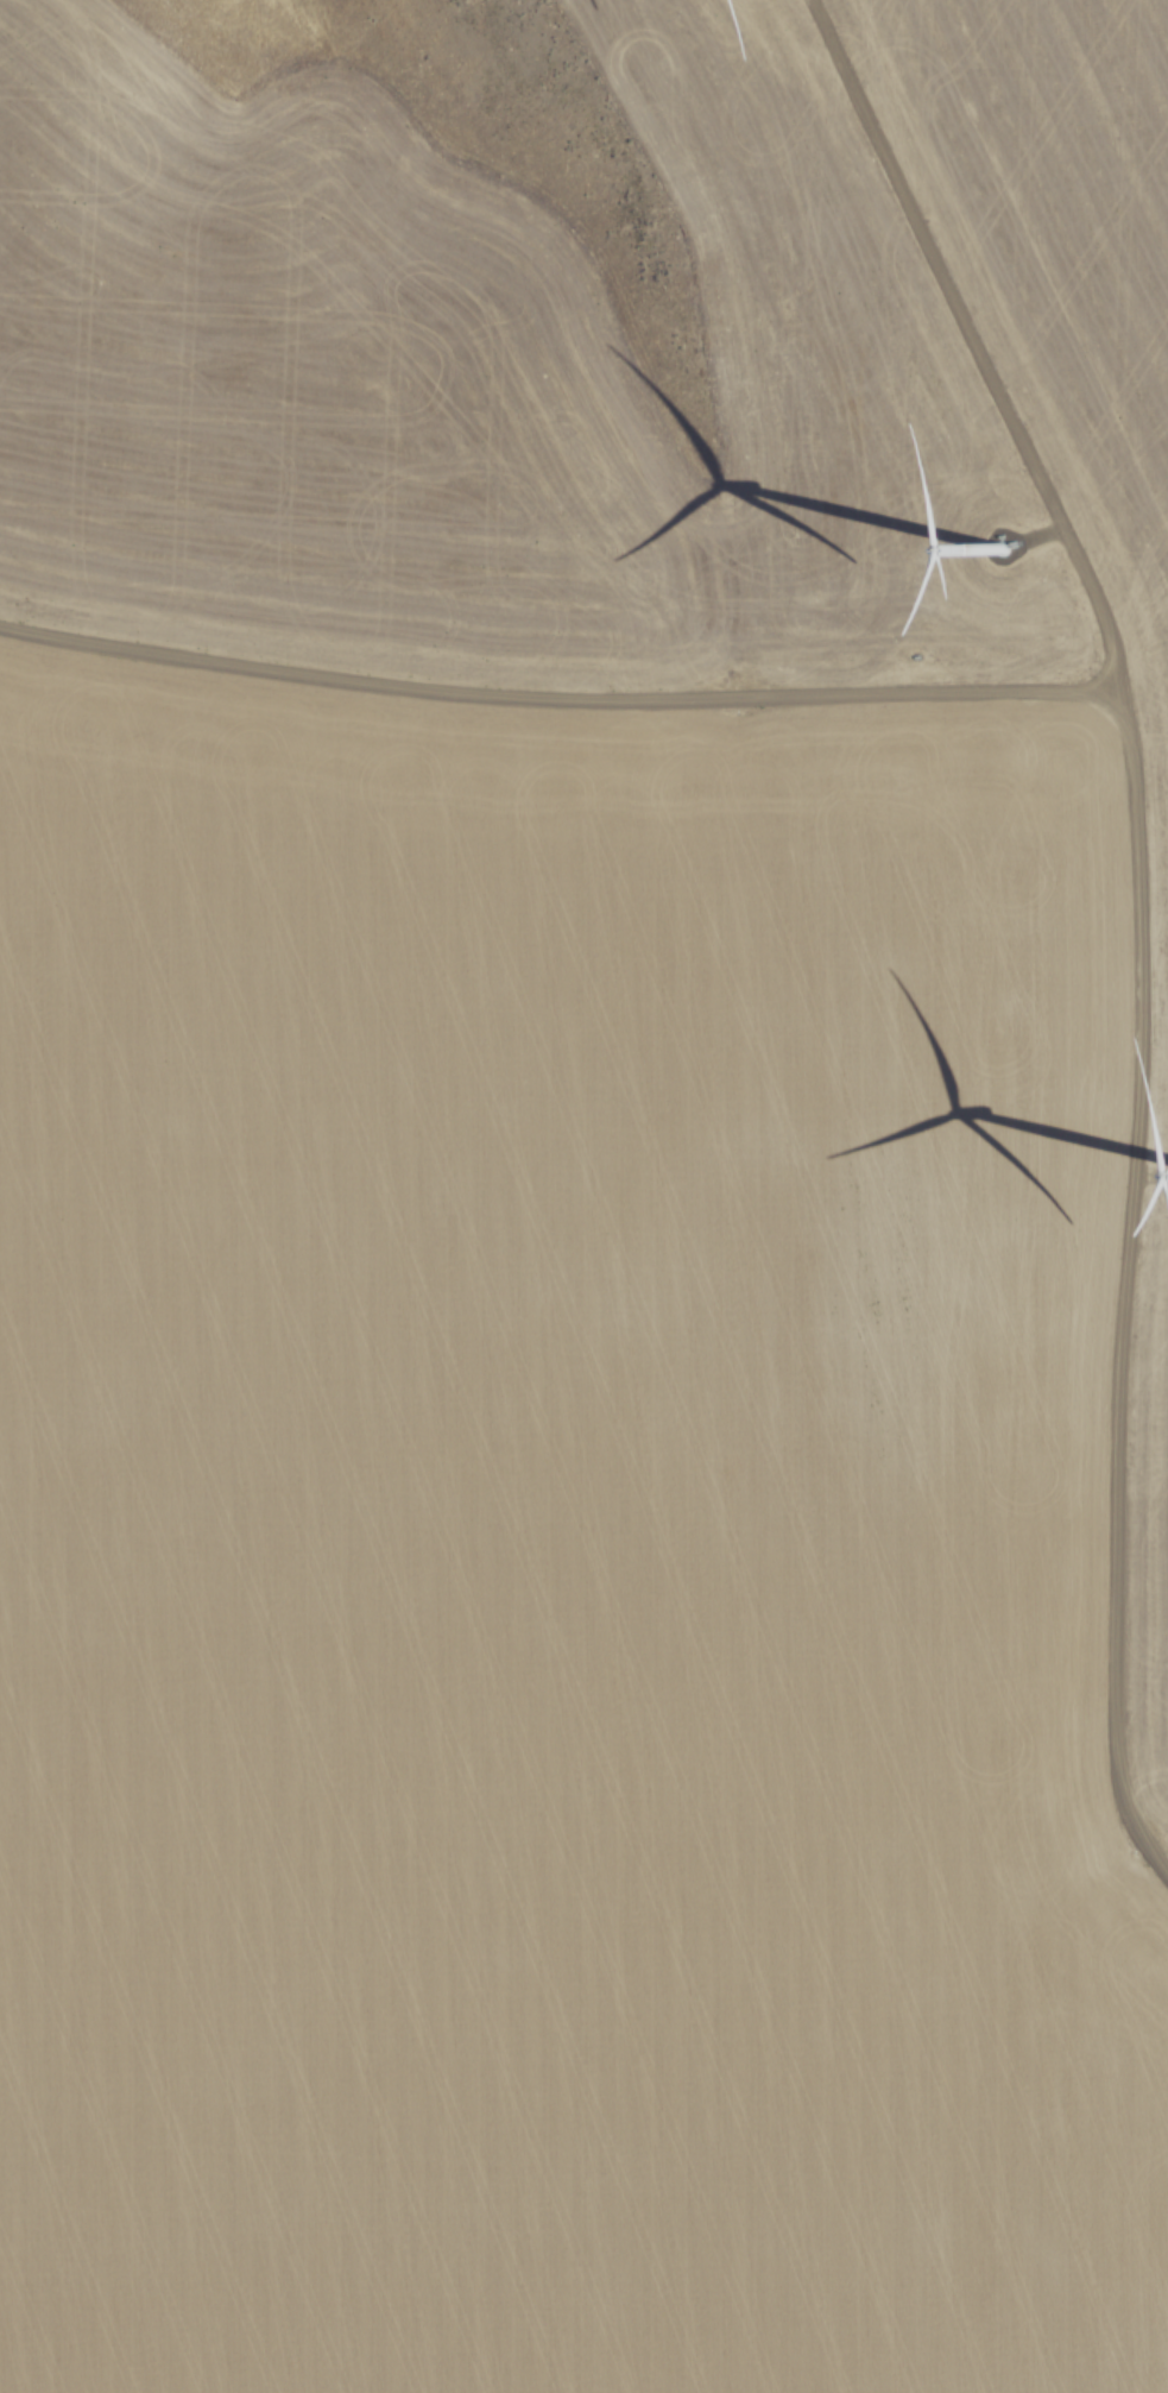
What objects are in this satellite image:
wind turbine: (1012, 575)

